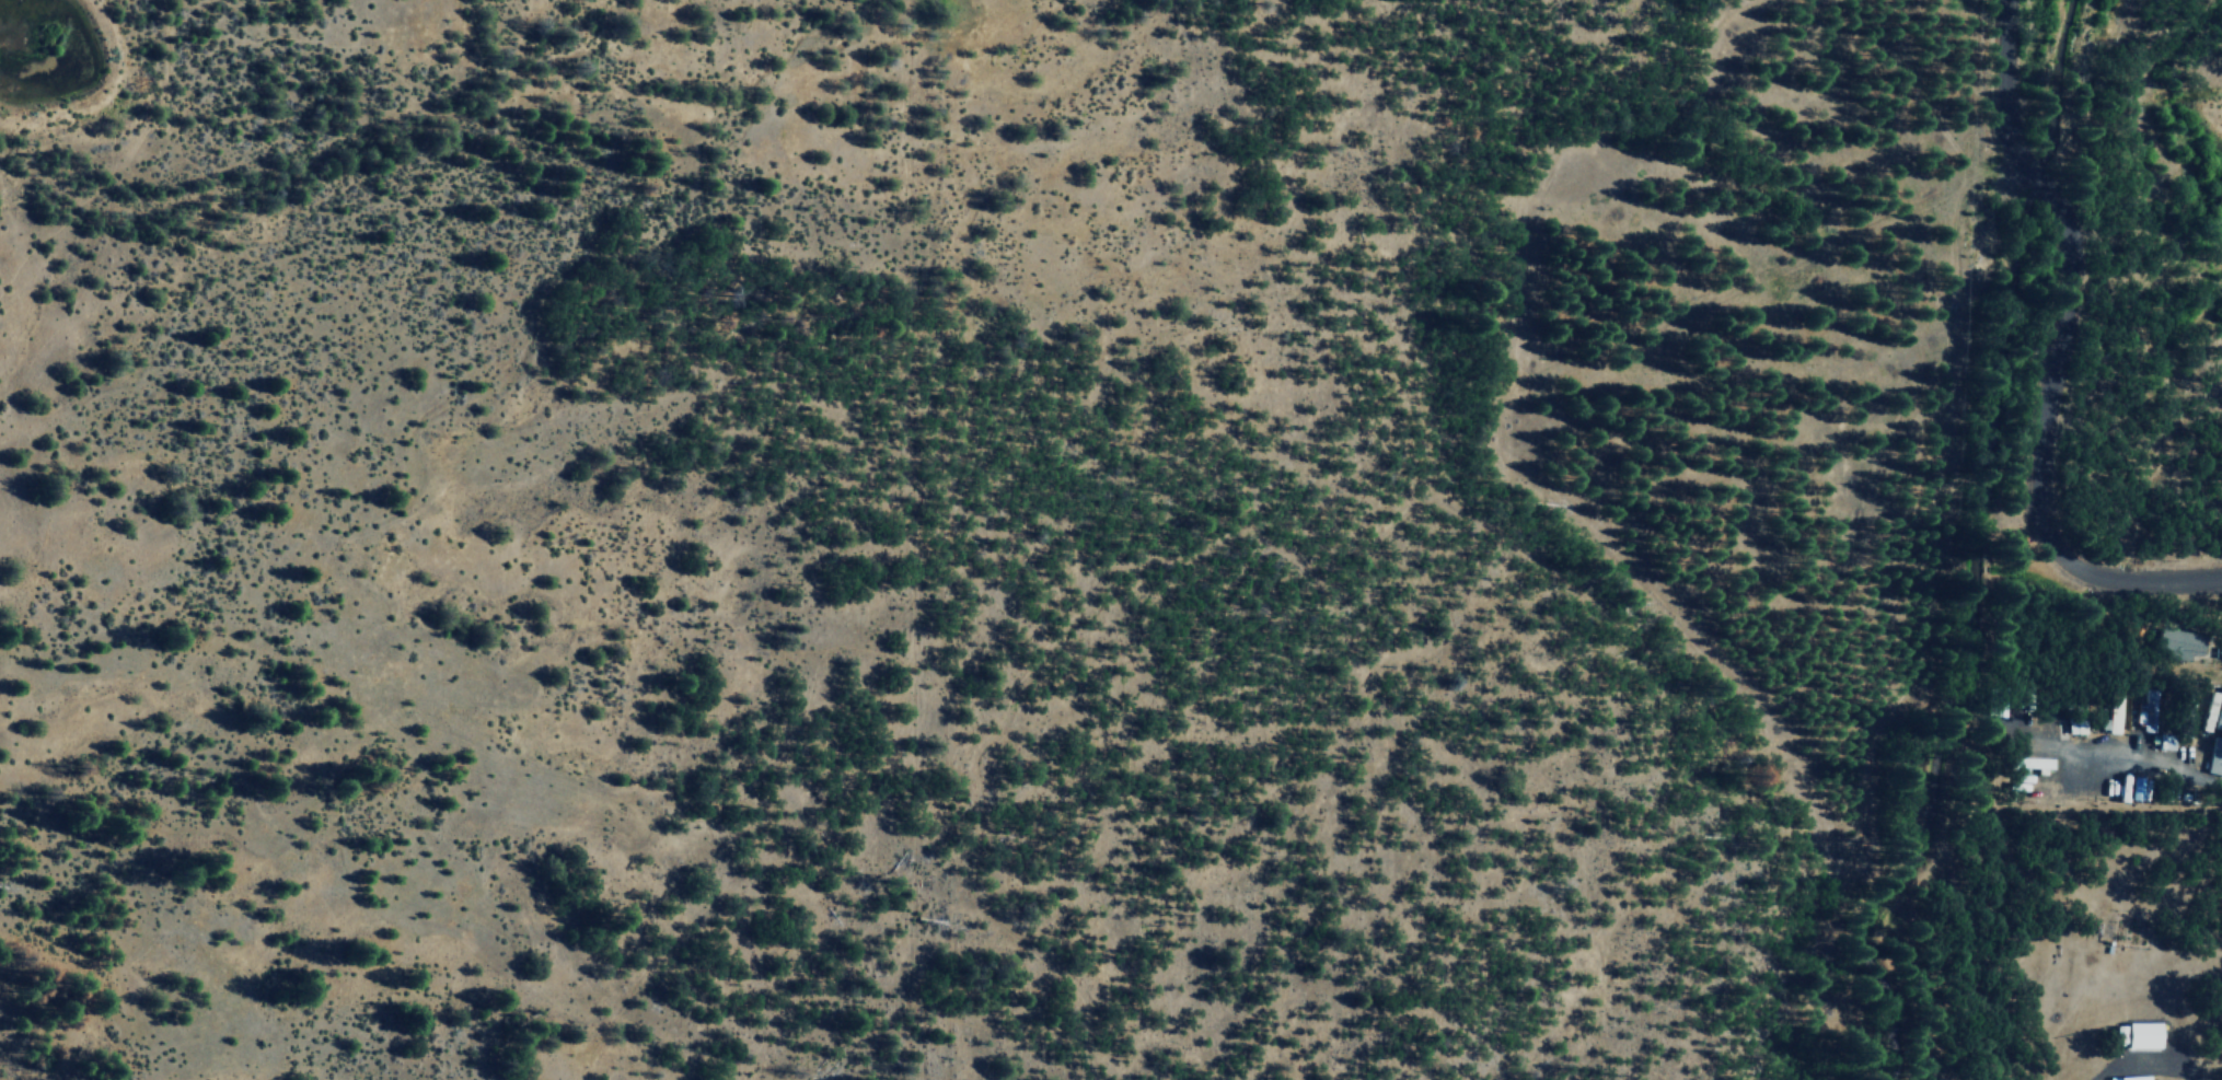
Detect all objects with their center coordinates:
road: (2053, 356)
building: (2179, 639)
building: (2146, 708)
building: (2213, 733)
road: (2155, 759)
building: (2140, 1034)

